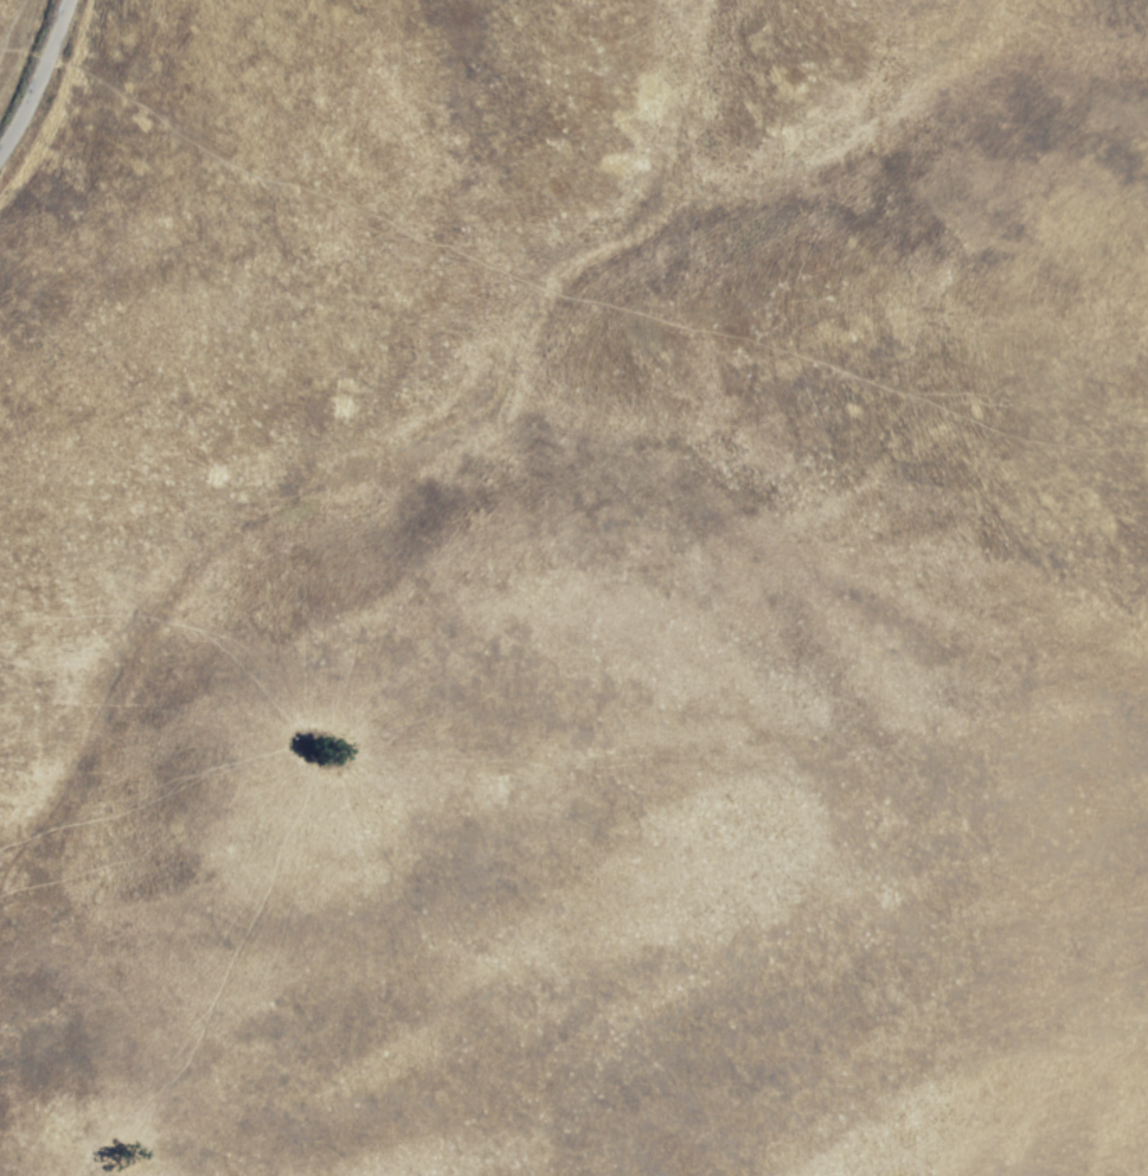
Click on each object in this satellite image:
road: (34, 73)

